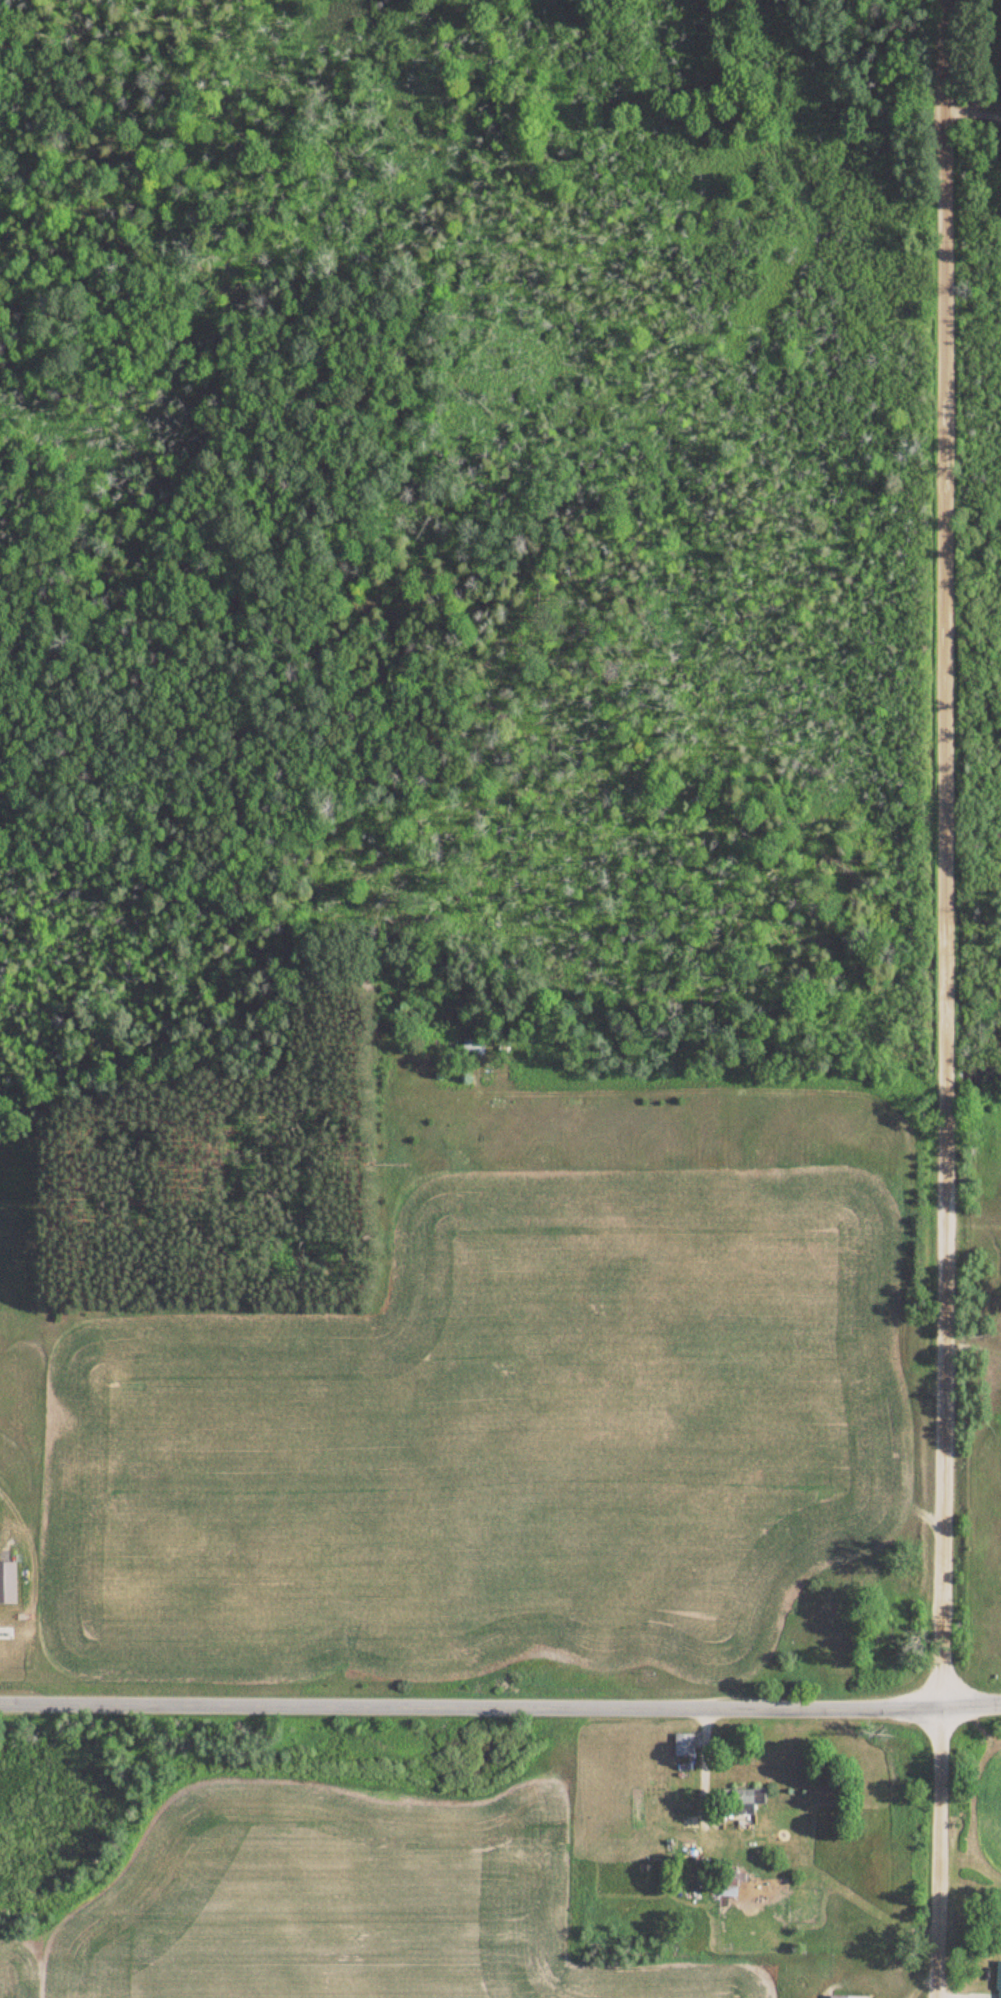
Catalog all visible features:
road: (972, 114)
road: (943, 999)
building: (476, 1045)
road: (500, 1706)
building: (686, 1743)
building: (743, 1800)
building: (731, 1885)
building: (999, 1980)
building: (850, 1997)

